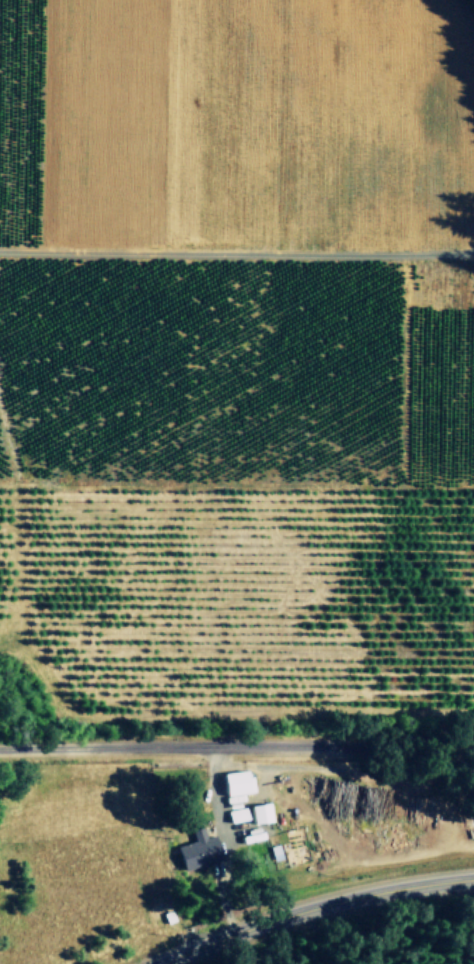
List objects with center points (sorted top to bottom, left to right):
road: (466, 20)
road: (236, 255)
crop: (235, 481)
road: (237, 747)
building: (236, 782)
building: (261, 812)
building: (237, 814)
building: (199, 849)
road: (312, 907)

